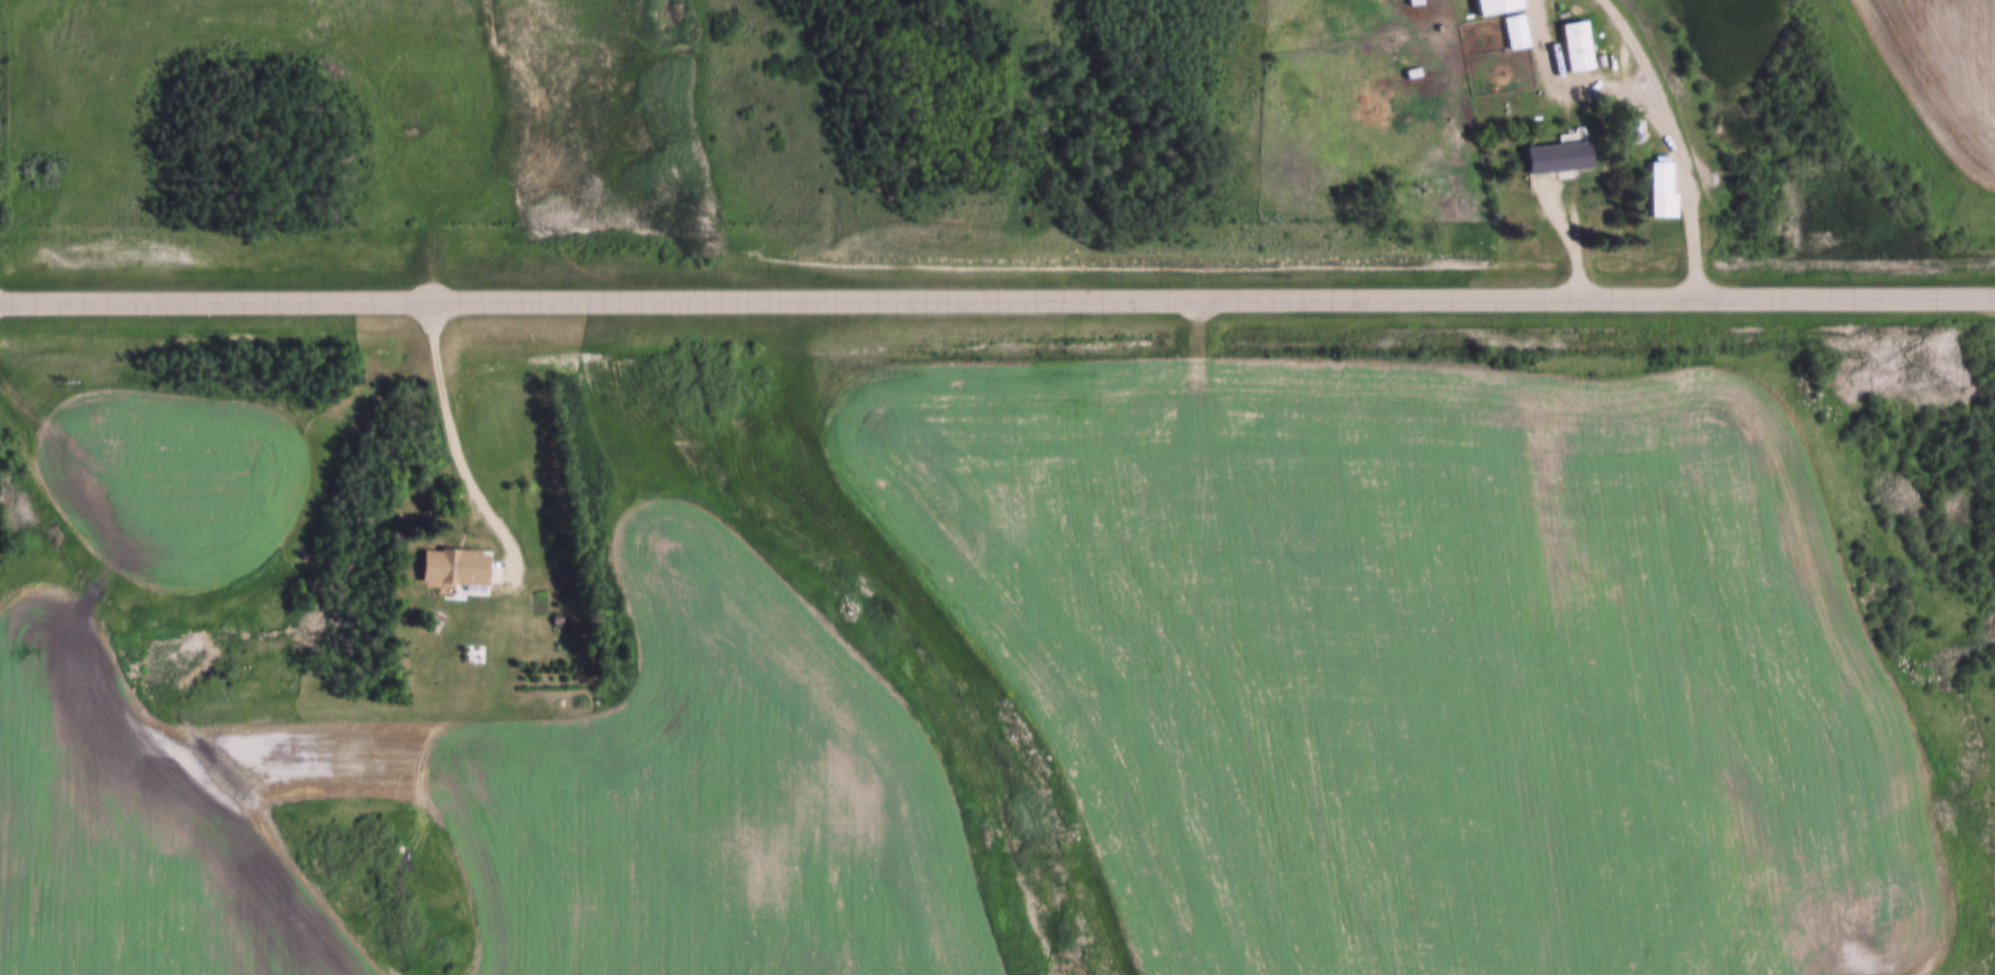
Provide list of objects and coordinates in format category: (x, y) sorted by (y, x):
building: (1493, 4)
building: (1515, 29)
building: (1575, 43)
building: (1600, 56)
building: (1620, 64)
building: (1634, 121)
silo: (1634, 121)
building: (1638, 134)
silo: (1638, 134)
road: (1674, 135)
building: (1556, 153)
building: (1660, 186)
road: (1568, 234)
road: (997, 301)
road: (463, 458)
building: (454, 562)

